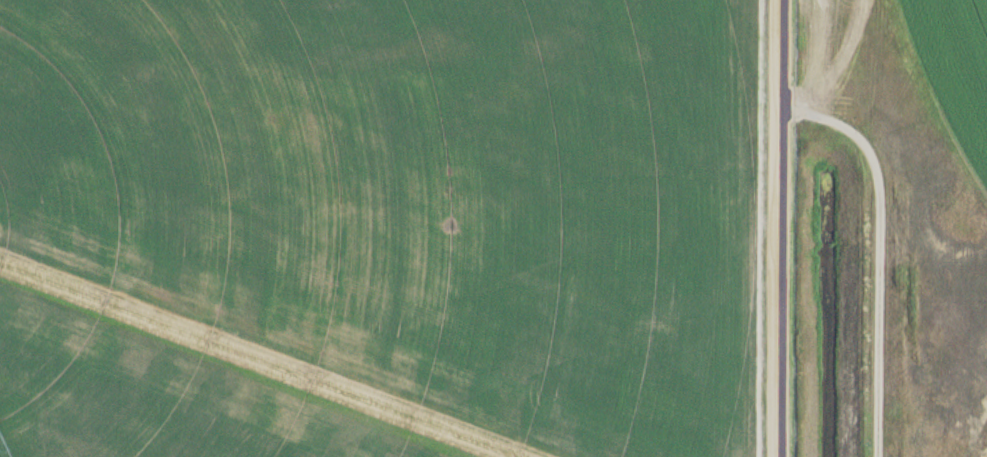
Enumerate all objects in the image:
crop: (941, 77)
crop: (380, 228)
wastewater plant: (493, 228)

